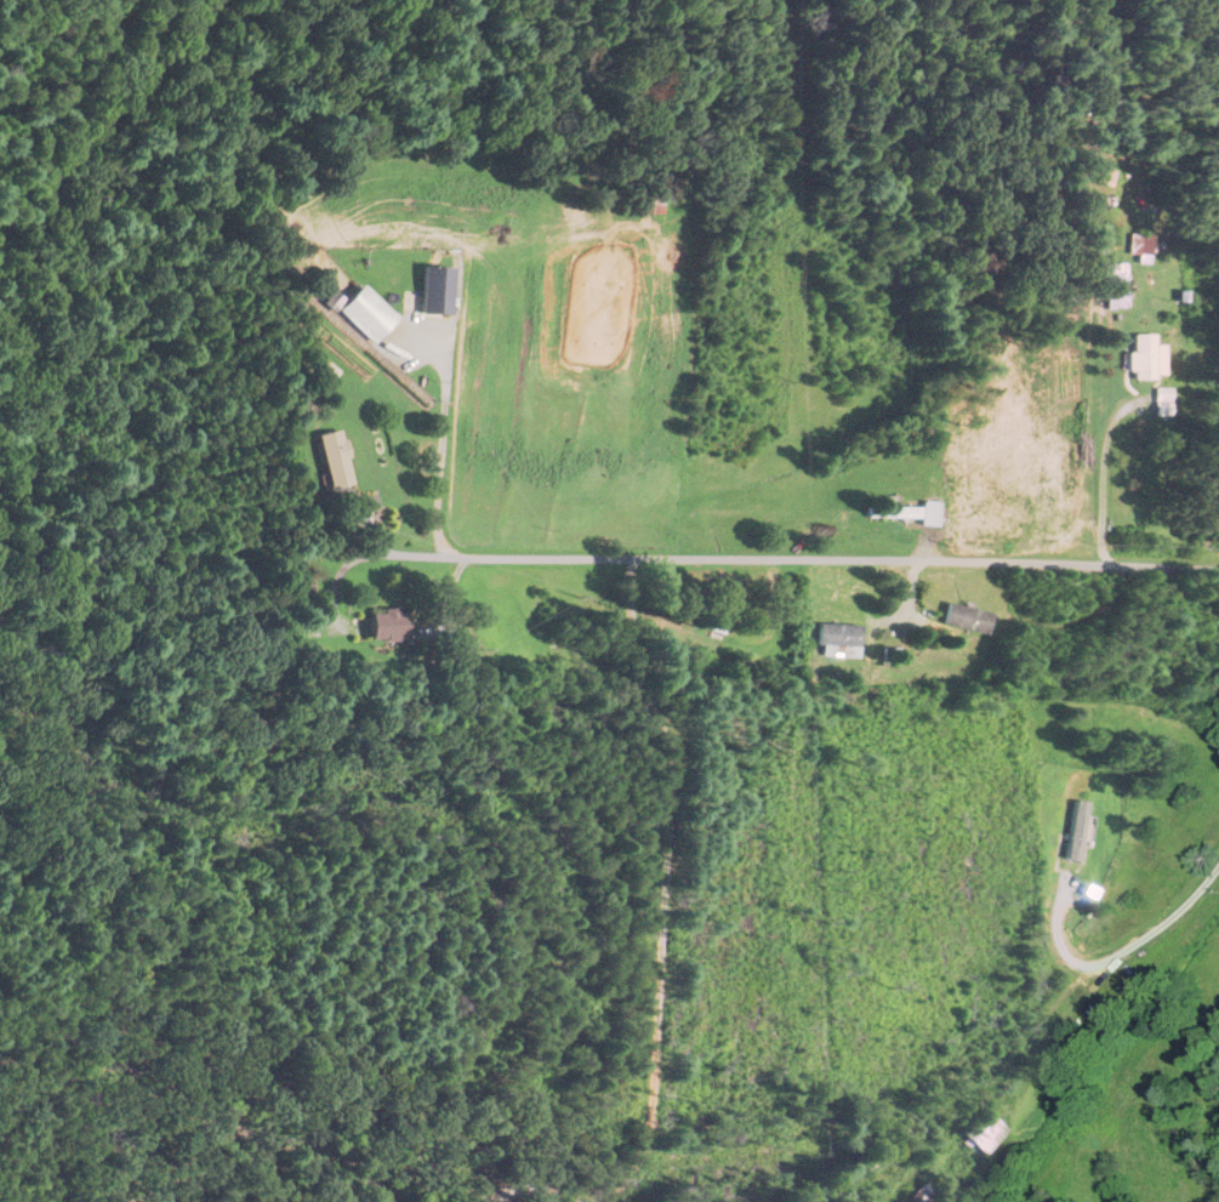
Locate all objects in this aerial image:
building: (645, 199)
building: (1130, 244)
building: (434, 291)
building: (1113, 295)
building: (365, 314)
building: (1139, 357)
road: (442, 440)
building: (332, 460)
road: (1100, 478)
building: (906, 513)
road: (801, 560)
road: (335, 581)
building: (965, 619)
building: (389, 625)
building: (837, 640)
road: (1112, 953)
building: (981, 1132)

